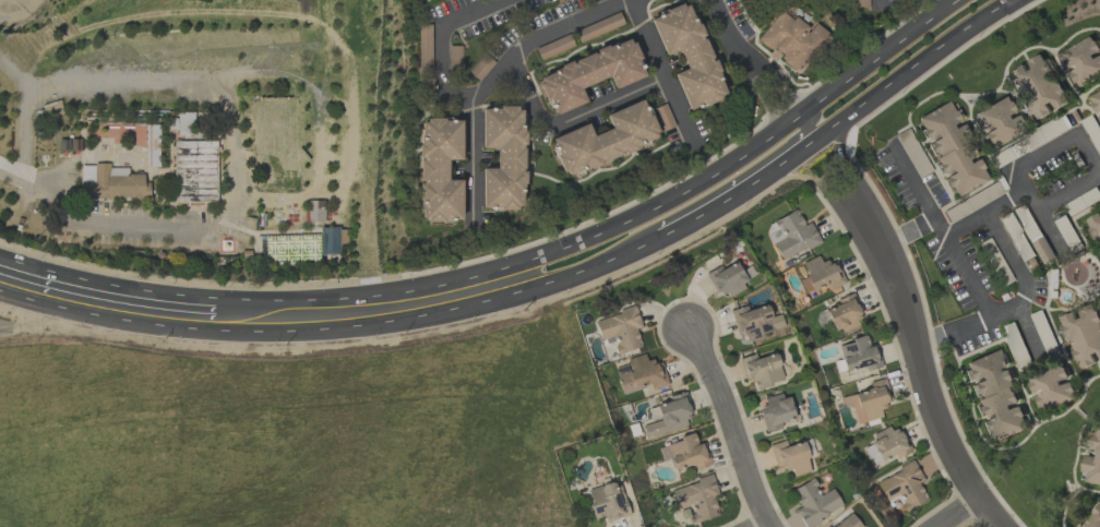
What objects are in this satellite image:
road: (605, 7)
road: (732, 32)
road: (546, 36)
building: (791, 38)
road: (441, 48)
building: (687, 55)
road: (155, 56)
building: (1083, 60)
building: (588, 74)
road: (900, 76)
building: (1038, 85)
road: (779, 86)
road: (767, 96)
building: (1096, 101)
road: (608, 105)
road: (679, 112)
road: (25, 113)
building: (999, 122)
building: (184, 123)
road: (316, 125)
road: (806, 134)
building: (603, 139)
road: (1081, 143)
building: (950, 148)
road: (741, 154)
building: (503, 157)
road: (839, 158)
road: (473, 160)
building: (438, 169)
building: (194, 171)
road: (358, 177)
road: (916, 181)
building: (111, 183)
road: (728, 196)
road: (1030, 200)
building: (195, 206)
road: (918, 226)
building: (1095, 227)
road: (231, 229)
building: (790, 235)
building: (328, 241)
road: (1005, 243)
rooftop solar panel: (334, 244)
road: (586, 267)
building: (818, 274)
building: (726, 279)
road: (111, 301)
road: (368, 311)
building: (844, 313)
rooftop solar panel: (767, 318)
building: (754, 322)
building: (620, 328)
rooftop solar panel: (749, 328)
rooftop solar panel: (764, 330)
rooftop solar panel: (755, 334)
building: (1083, 334)
rooftop solar panel: (851, 349)
building: (857, 355)
rooftop solar panel: (868, 366)
road: (921, 366)
building: (761, 370)
building: (1050, 386)
building: (995, 395)
building: (865, 404)
building: (775, 411)
building: (667, 416)
road: (733, 428)
building: (886, 444)
building: (686, 453)
building: (789, 457)
building: (1091, 462)
rooftop solar panel: (914, 480)
building: (901, 486)
rooftop solar panel: (894, 491)
building: (696, 499)
building: (607, 501)
building: (814, 502)
rooftop solar panel: (618, 503)
rooftop solar panel: (599, 510)
road: (964, 514)
building: (1092, 517)
building: (847, 522)
road: (770, 526)

